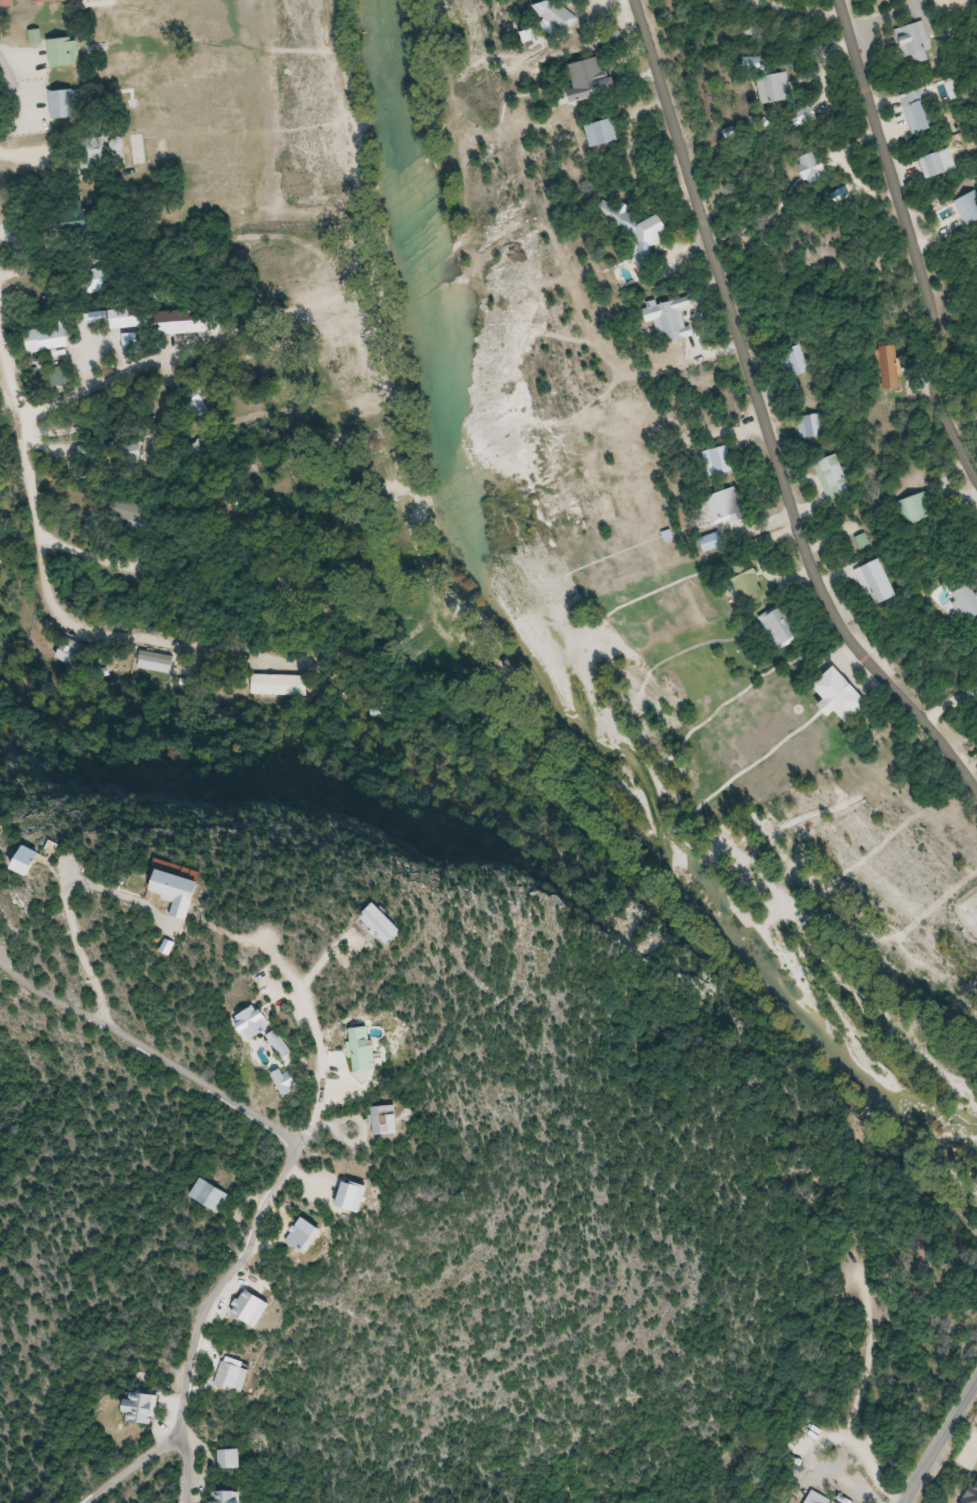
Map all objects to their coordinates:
building: (753, 0)
building: (49, 1)
building: (7, 3)
building: (562, 17)
building: (915, 42)
building: (67, 53)
building: (596, 81)
building: (774, 88)
building: (67, 104)
building: (919, 112)
building: (808, 114)
building: (605, 133)
building: (94, 155)
building: (813, 168)
building: (969, 208)
building: (81, 222)
building: (635, 229)
road: (911, 242)
building: (52, 339)
building: (796, 362)
building: (890, 368)
road: (768, 407)
building: (813, 426)
building: (135, 451)
building: (718, 462)
building: (834, 478)
building: (725, 506)
building: (917, 509)
building: (133, 512)
building: (746, 578)
building: (878, 583)
road: (44, 591)
building: (965, 602)
building: (780, 627)
river: (545, 639)
building: (69, 652)
building: (285, 685)
building: (844, 694)
building: (380, 710)
building: (52, 859)
building: (212, 890)
building: (425, 920)
building: (264, 1022)
building: (288, 1044)
building: (373, 1048)
road: (150, 1053)
building: (289, 1082)
building: (392, 1120)
road: (275, 1193)
building: (211, 1195)
building: (310, 1234)
building: (237, 1376)
building: (146, 1408)
road: (943, 1443)
building: (233, 1459)
road: (130, 1467)
road: (185, 1470)
building: (232, 1497)
building: (817, 1498)

